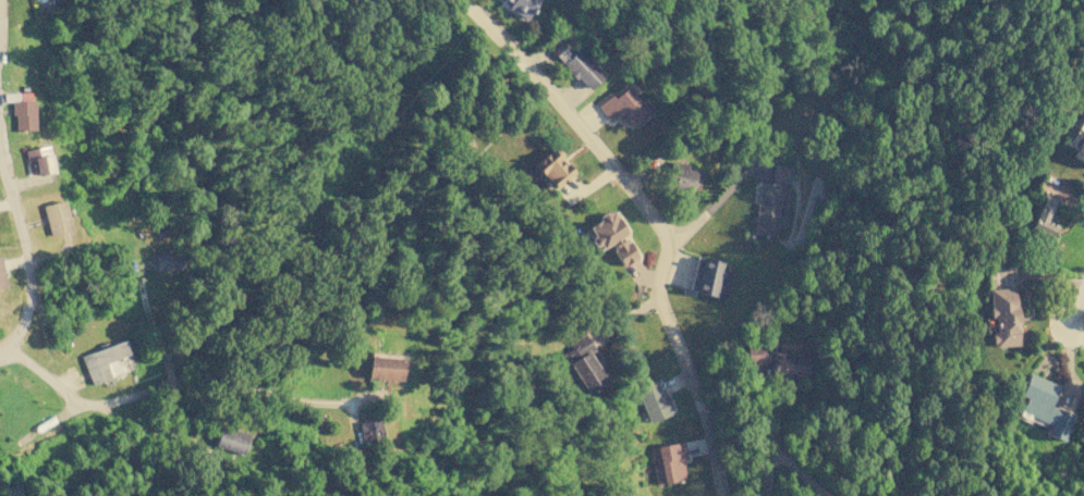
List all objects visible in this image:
building: (521, 7)
building: (577, 65)
building: (623, 106)
building: (23, 115)
building: (1081, 125)
building: (1079, 151)
building: (39, 159)
building: (552, 168)
building: (781, 173)
building: (679, 175)
building: (769, 209)
building: (56, 218)
building: (1044, 219)
road: (651, 221)
building: (611, 237)
building: (165, 260)
building: (1, 277)
building: (708, 277)
road: (28, 302)
road: (1076, 313)
building: (1002, 315)
road: (4, 351)
building: (775, 360)
building: (107, 361)
building: (583, 364)
building: (385, 368)
building: (8, 377)
road: (205, 386)
building: (653, 400)
building: (1043, 406)
building: (369, 432)
building: (231, 439)
building: (669, 463)
building: (12, 489)

